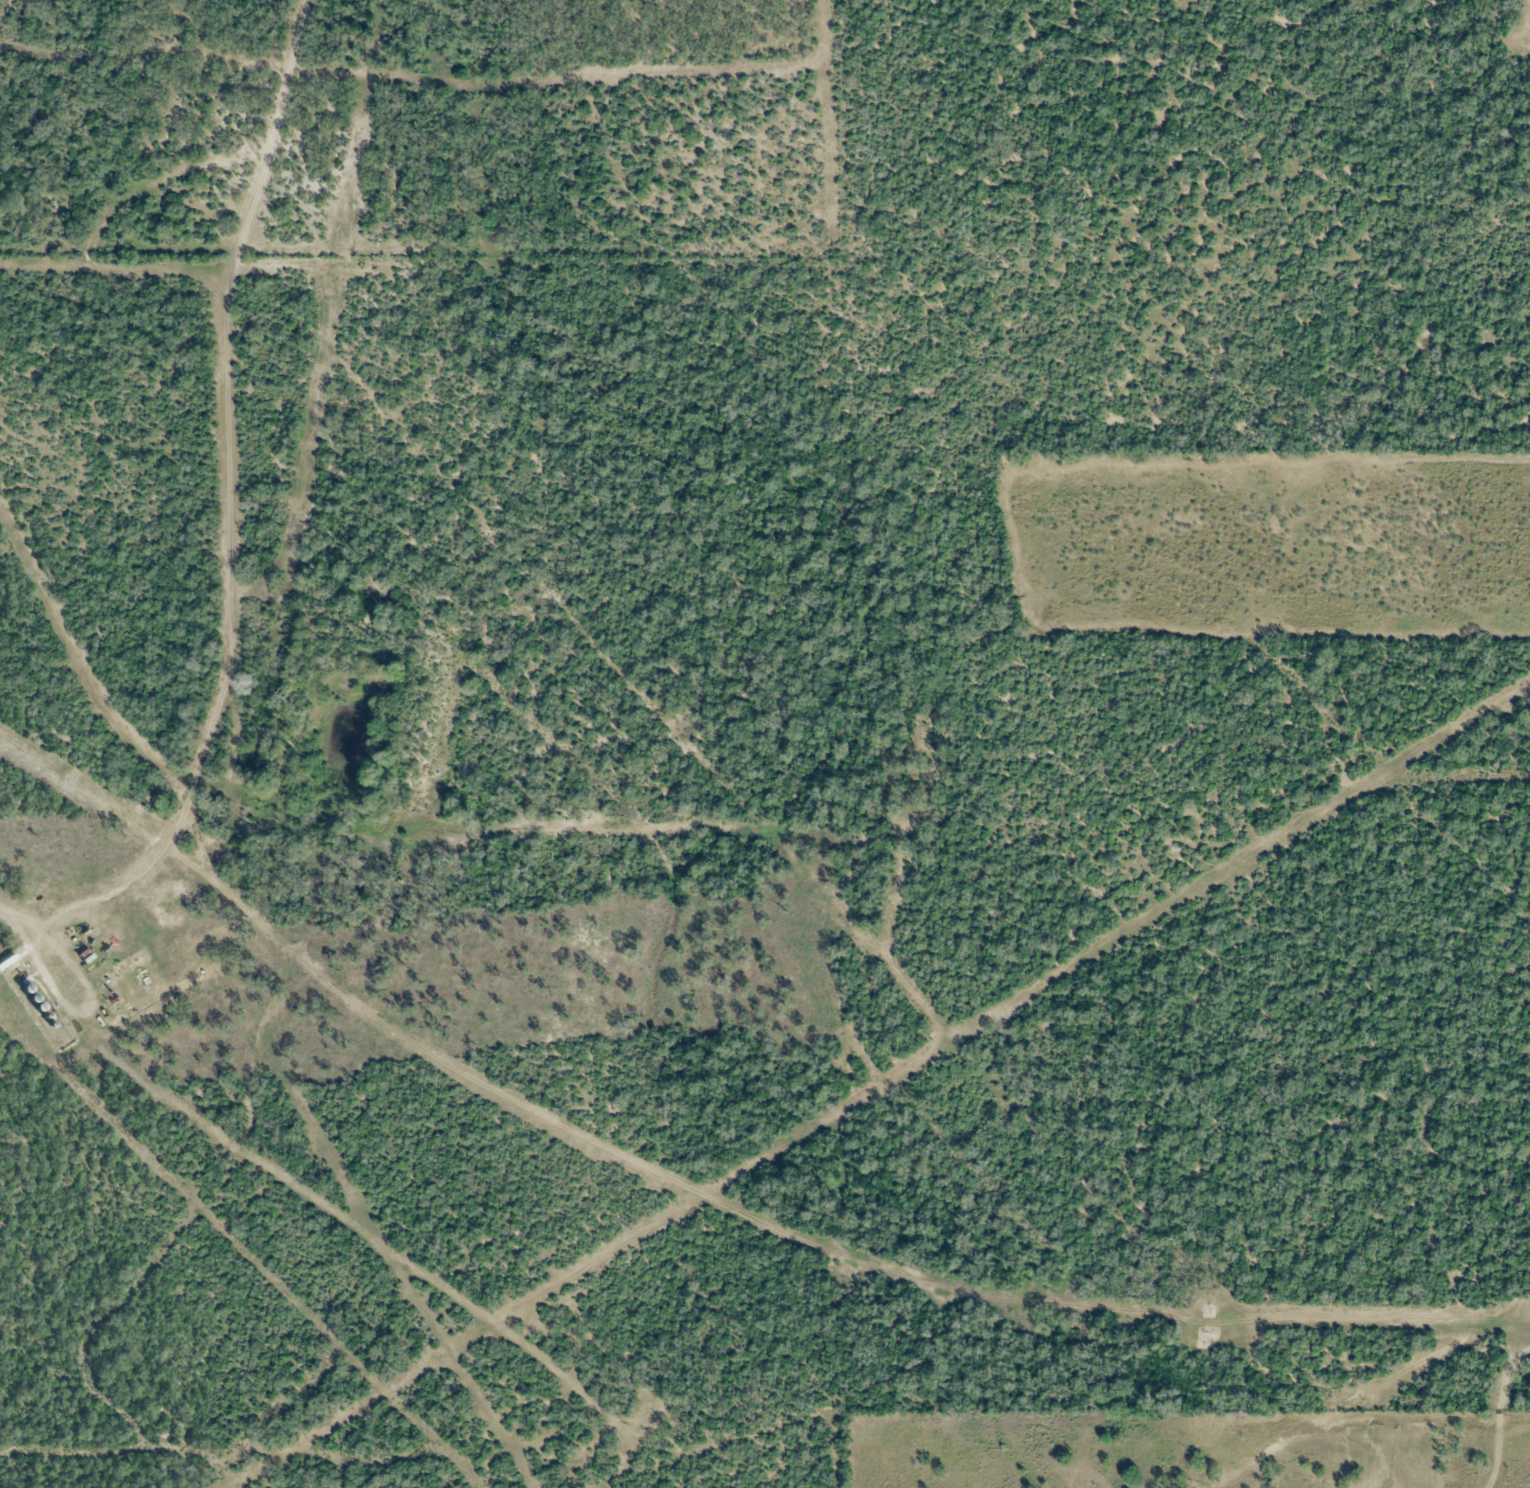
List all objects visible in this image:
road: (39, 964)

